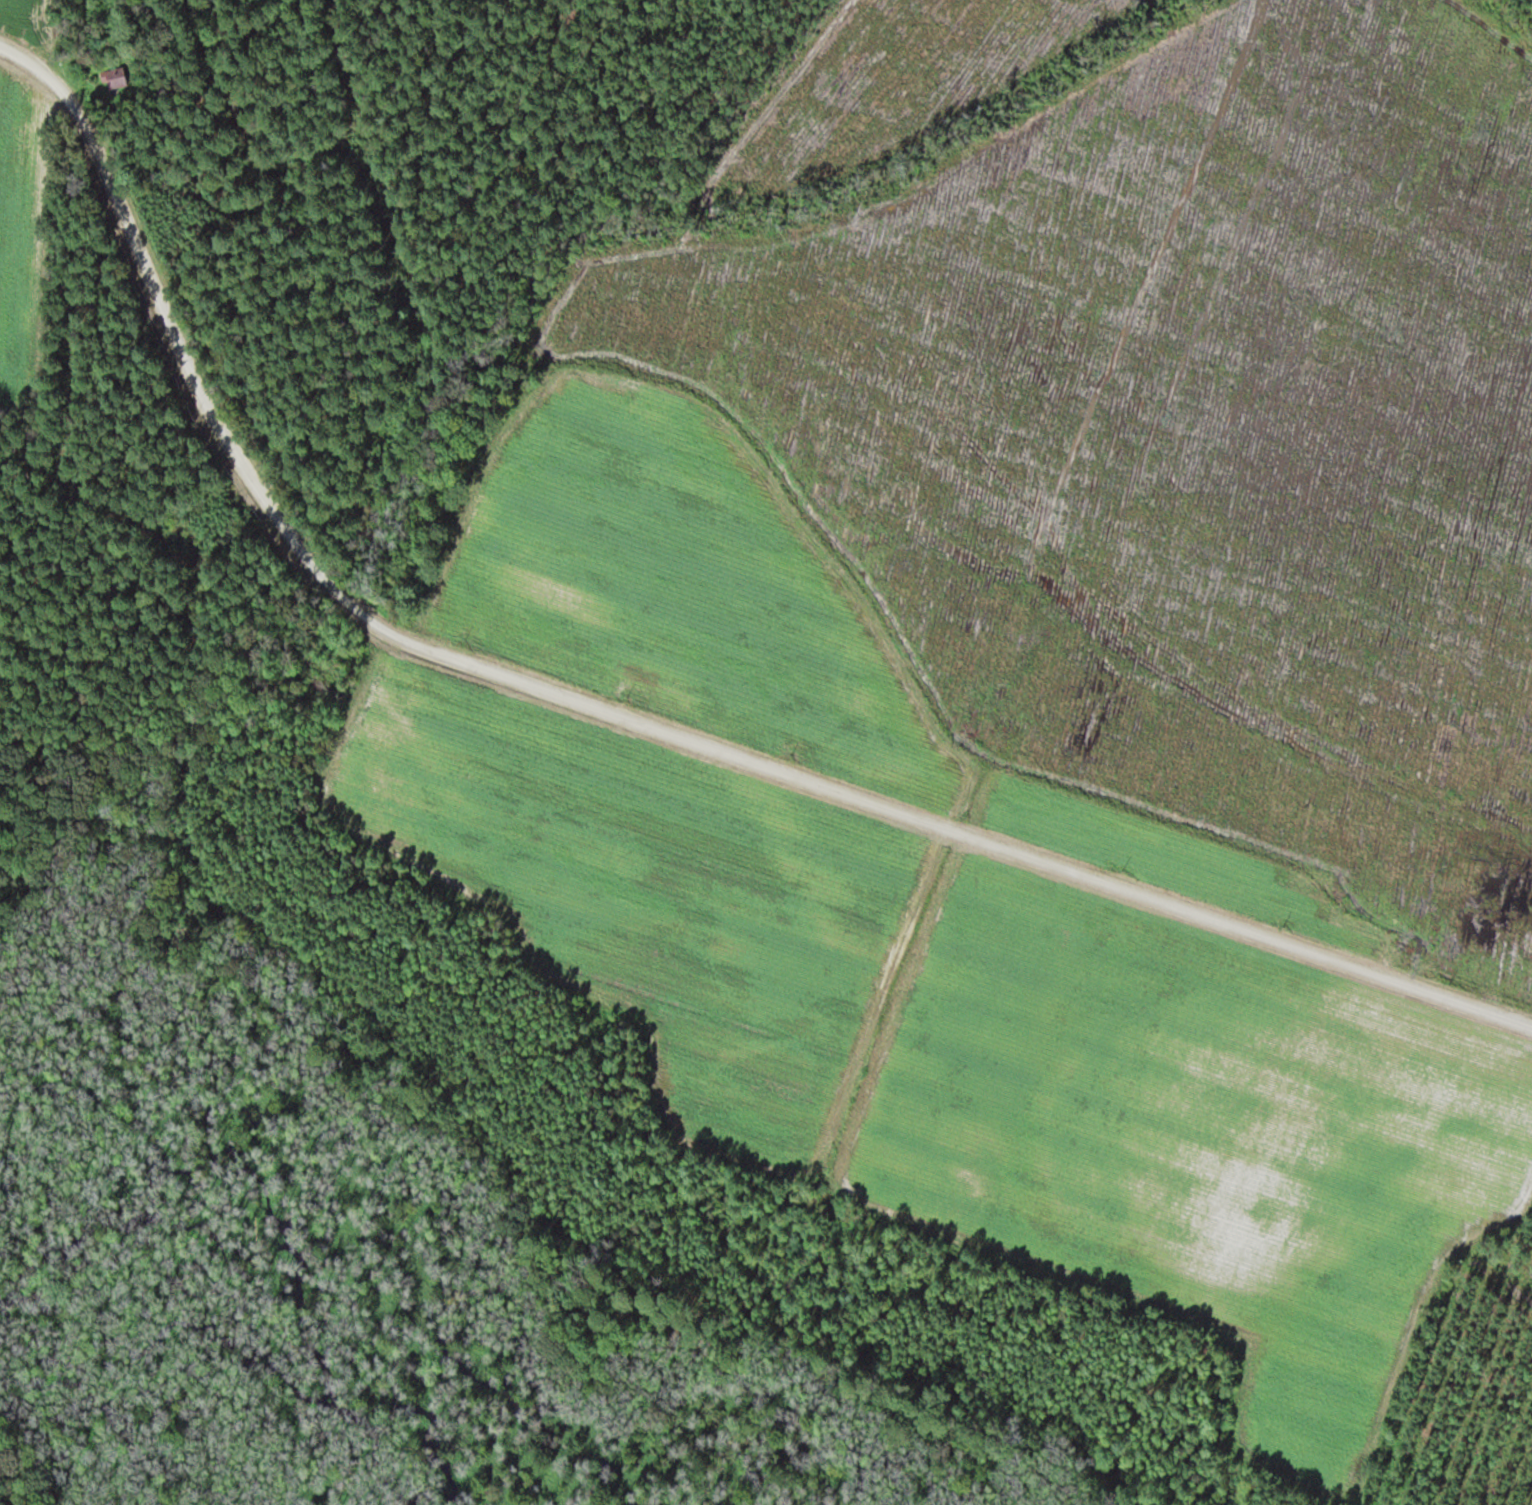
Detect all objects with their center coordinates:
road: (619, 714)
river: (236, 1277)
river: (315, 1402)

